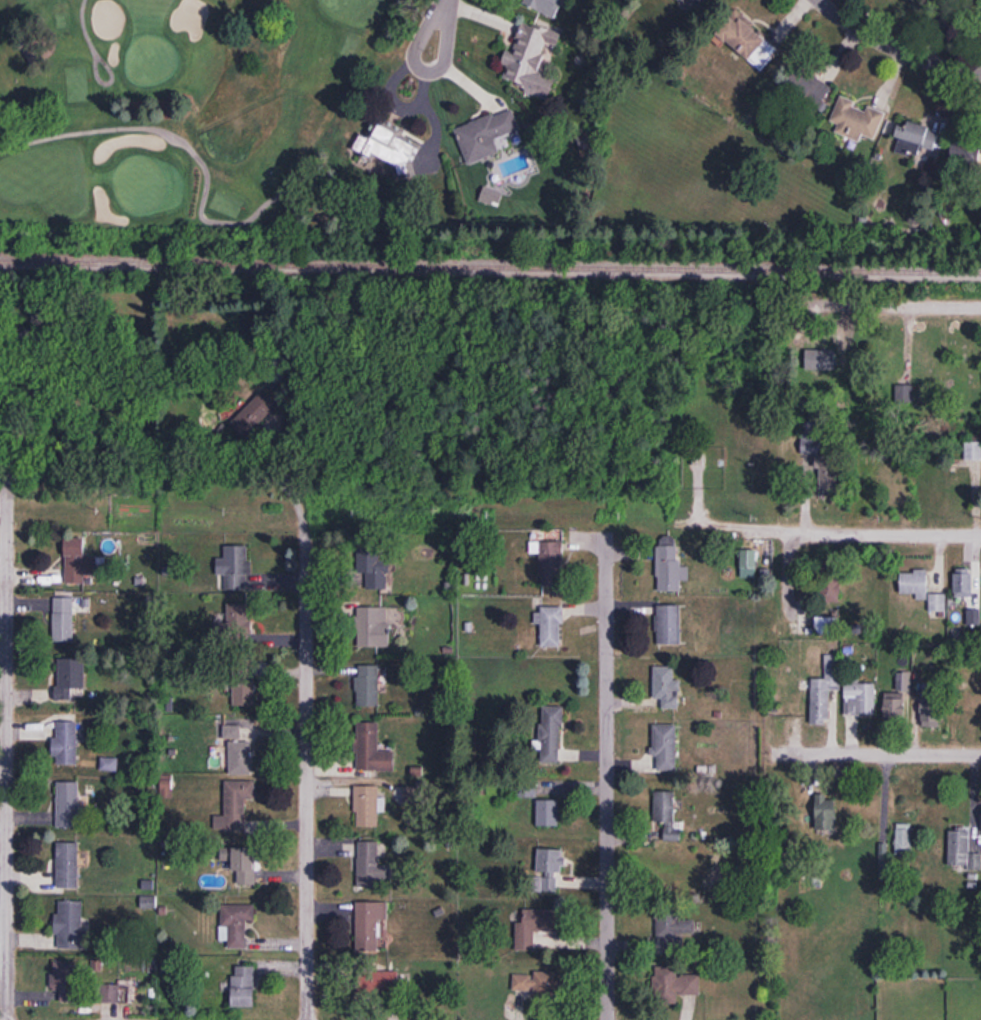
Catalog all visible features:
building: (698, 2)
building: (543, 4)
road: (82, 25)
road: (444, 32)
building: (744, 37)
road: (894, 49)
building: (528, 56)
road: (106, 81)
building: (806, 85)
road: (405, 106)
building: (855, 117)
park: (203, 120)
road: (432, 124)
building: (914, 131)
building: (485, 133)
building: (964, 146)
road: (190, 147)
building: (386, 147)
railway: (490, 268)
road: (879, 307)
building: (896, 356)
building: (276, 371)
building: (259, 414)
building: (972, 451)
building: (828, 477)
road: (287, 481)
building: (889, 481)
road: (879, 535)
building: (78, 563)
building: (551, 564)
building: (670, 565)
building: (749, 565)
building: (375, 566)
building: (234, 570)
building: (963, 583)
building: (921, 590)
building: (830, 591)
building: (973, 620)
building: (64, 621)
building: (669, 625)
building: (827, 626)
building: (552, 627)
building: (373, 628)
building: (71, 679)
building: (368, 687)
building: (244, 688)
building: (667, 688)
building: (824, 691)
building: (859, 699)
building: (894, 705)
building: (552, 735)
building: (66, 744)
building: (666, 747)
building: (372, 750)
road: (8, 754)
road: (877, 754)
building: (241, 758)
road: (308, 776)
road: (608, 778)
building: (69, 805)
building: (236, 806)
building: (367, 807)
building: (548, 814)
building: (826, 815)
building: (668, 816)
building: (904, 840)
building: (958, 847)
building: (241, 865)
building: (68, 867)
building: (371, 867)
building: (549, 871)
building: (673, 925)
building: (236, 926)
building: (369, 926)
building: (71, 927)
building: (536, 928)
building: (386, 984)
building: (535, 984)
building: (80, 986)
building: (674, 986)
building: (244, 988)

